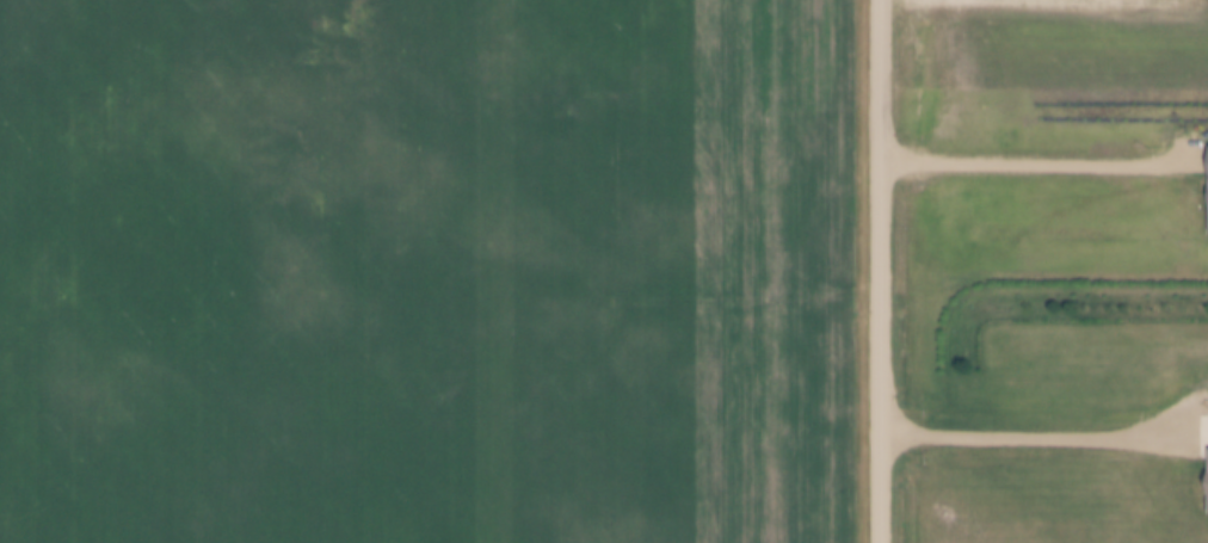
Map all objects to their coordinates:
road: (881, 271)

